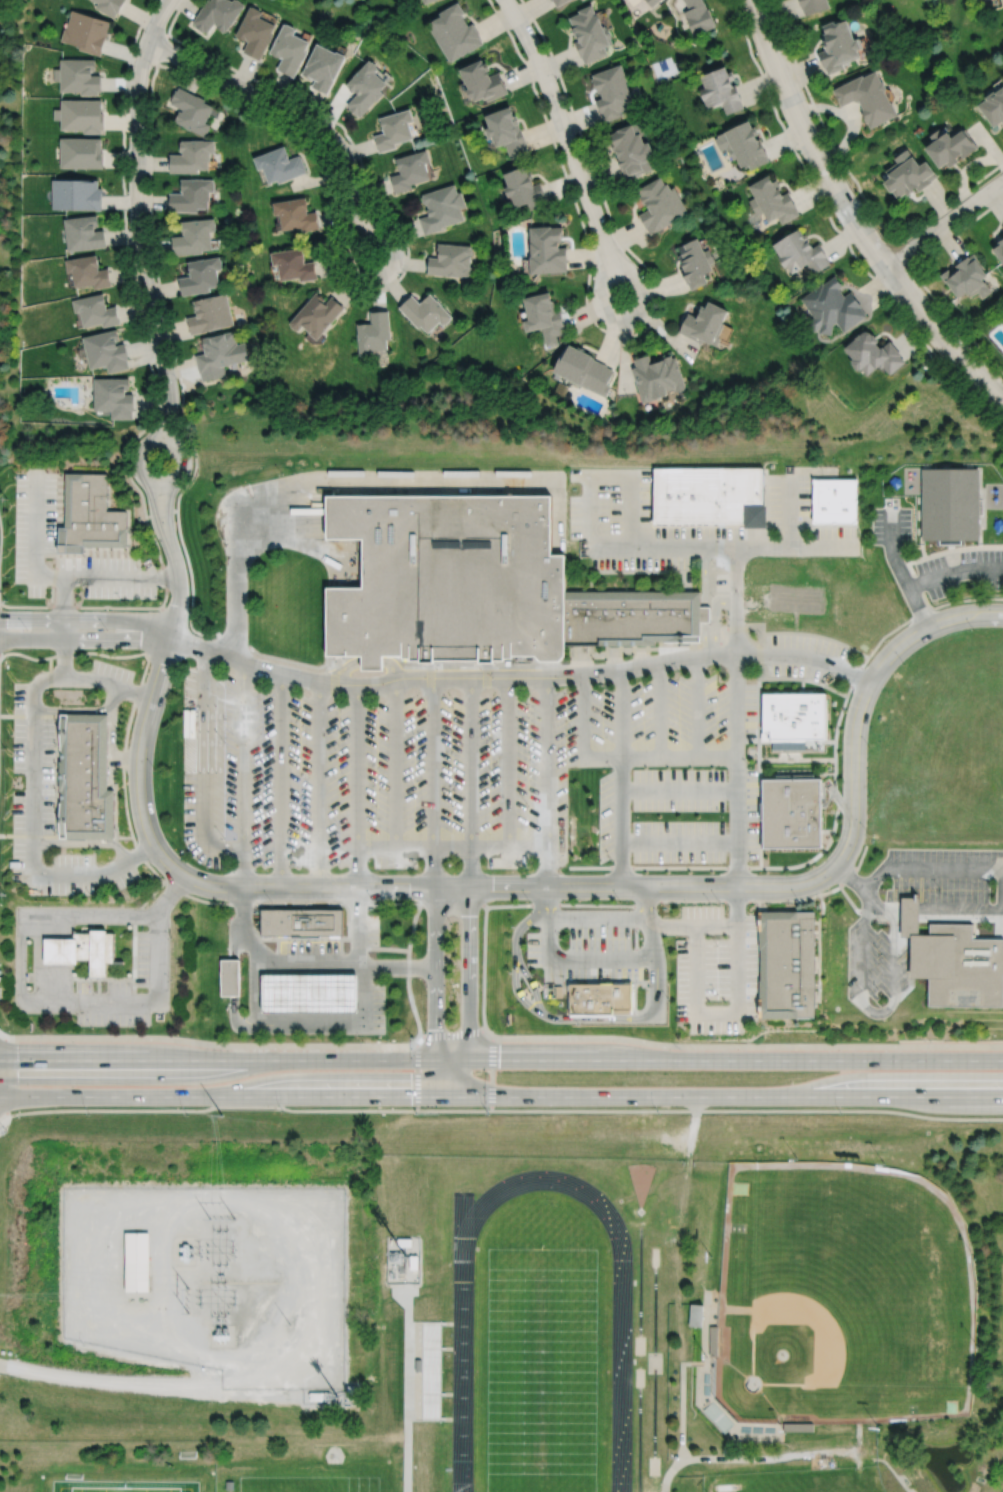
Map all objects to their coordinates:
building: (429, 1)
building: (560, 1)
building: (652, 2)
building: (813, 5)
building: (109, 6)
building: (218, 14)
building: (698, 16)
building: (86, 31)
building: (457, 31)
building: (256, 32)
building: (590, 33)
street lamp: (782, 35)
building: (840, 44)
road: (162, 47)
building: (290, 49)
building: (324, 66)
street lamp: (153, 67)
park: (663, 68)
road: (179, 71)
building: (78, 75)
street lamp: (558, 80)
building: (486, 81)
building: (366, 87)
building: (721, 89)
building: (612, 91)
building: (869, 97)
building: (993, 105)
street lamp: (255, 106)
building: (192, 111)
building: (82, 114)
road: (562, 126)
building: (395, 129)
building: (509, 131)
street lamp: (344, 136)
building: (744, 144)
building: (951, 146)
building: (632, 150)
building: (81, 151)
street lamp: (799, 153)
building: (192, 156)
road: (345, 156)
building: (280, 165)
building: (412, 170)
street lamp: (126, 173)
building: (911, 176)
road: (856, 183)
building: (525, 189)
building: (76, 193)
road: (137, 194)
building: (192, 195)
street lamp: (577, 200)
building: (772, 200)
building: (660, 205)
building: (443, 208)
building: (297, 214)
road: (852, 215)
road: (944, 222)
road: (836, 230)
building: (83, 232)
street lamp: (883, 235)
building: (194, 237)
street lamp: (404, 245)
building: (999, 249)
building: (546, 250)
building: (801, 253)
road: (901, 254)
building: (452, 261)
building: (695, 263)
building: (295, 265)
building: (88, 272)
street lamp: (646, 273)
building: (201, 276)
road: (917, 278)
building: (967, 278)
street lamp: (135, 286)
building: (833, 308)
building: (96, 311)
building: (426, 312)
building: (211, 315)
building: (317, 315)
building: (543, 317)
road: (630, 319)
building: (705, 324)
building: (375, 334)
road: (630, 335)
street lamp: (965, 338)
building: (106, 351)
building: (874, 354)
building: (218, 356)
building: (583, 370)
building: (657, 378)
street lamp: (178, 382)
road: (154, 385)
building: (113, 398)
road: (161, 416)
road: (173, 418)
road: (948, 468)
street lamp: (283, 474)
street lamp: (161, 478)
road: (179, 478)
road: (354, 482)
road: (632, 489)
parking lot: (788, 497)
building: (711, 498)
building: (836, 502)
building: (949, 505)
road: (592, 509)
parking lot: (35, 511)
road: (162, 513)
road: (788, 514)
building: (90, 515)
road: (169, 516)
road: (156, 518)
road: (602, 522)
road: (913, 523)
parking lot: (892, 525)
street lamp: (870, 526)
street lamp: (12, 530)
street lamp: (24, 539)
road: (299, 540)
parking lot: (835, 541)
road: (951, 546)
parking lot: (656, 547)
road: (728, 547)
street lamp: (927, 552)
street lamp: (163, 555)
road: (929, 555)
street lamp: (713, 562)
street lamp: (225, 567)
road: (637, 570)
road: (899, 570)
parking lot: (962, 571)
road: (954, 572)
road: (43, 574)
road: (704, 575)
road: (166, 577)
building: (446, 579)
parking lot: (722, 581)
street lamp: (988, 592)
street lamp: (712, 595)
road: (178, 596)
street lamp: (946, 597)
street lamp: (120, 598)
road: (736, 601)
road: (63, 606)
road: (174, 608)
road: (704, 612)
building: (705, 612)
building: (631, 615)
road: (86, 618)
road: (714, 618)
street lamp: (26, 627)
street lamp: (106, 628)
road: (155, 630)
street lamp: (973, 630)
road: (775, 632)
street lamp: (204, 635)
road: (760, 637)
road: (84, 638)
road: (704, 638)
road: (577, 654)
road: (806, 655)
parking lot: (803, 656)
road: (64, 657)
road: (370, 660)
road: (249, 663)
street lamp: (904, 664)
road: (392, 665)
street lamp: (81, 667)
road: (342, 668)
street lamp: (679, 671)
parking lot: (110, 675)
road: (569, 675)
road: (764, 677)
street lamp: (173, 683)
road: (365, 683)
street lamp: (603, 683)
road: (802, 684)
street lamp: (300, 705)
street lamp: (376, 705)
street lamp: (451, 705)
street lamp: (527, 706)
road: (697, 707)
road: (74, 708)
road: (658, 710)
road: (621, 713)
road: (584, 715)
building: (793, 717)
street lamp: (11, 733)
road: (112, 733)
road: (753, 740)
street lamp: (223, 741)
road: (821, 741)
street lamp: (869, 747)
road: (753, 751)
road: (789, 754)
road: (123, 755)
road: (661, 757)
road: (509, 761)
road: (394, 762)
parking lot: (427, 763)
road: (204, 765)
street lamp: (749, 766)
street lamp: (154, 767)
street lamp: (611, 768)
road: (737, 770)
road: (796, 772)
road: (243, 773)
road: (55, 774)
road: (758, 774)
building: (83, 776)
road: (281, 779)
road: (433, 780)
road: (470, 781)
road: (547, 781)
road: (32, 782)
road: (318, 783)
road: (109, 784)
road: (119, 785)
road: (357, 785)
road: (679, 789)
road: (837, 802)
road: (840, 802)
road: (823, 803)
street lamp: (299, 804)
street lamp: (375, 804)
street lamp: (451, 805)
street lamp: (527, 805)
parking lot: (46, 809)
road: (760, 809)
building: (792, 810)
parking lot: (614, 814)
street lamp: (636, 814)
street lamp: (721, 815)
road: (622, 821)
road: (823, 830)
road: (831, 830)
street lamp: (868, 834)
street lamp: (223, 835)
street lamp: (9, 841)
road: (84, 841)
road: (679, 842)
road: (452, 846)
street lamp: (180, 850)
street lamp: (611, 858)
street lamp: (754, 860)
road: (991, 868)
road: (182, 873)
parking lot: (951, 879)
road: (811, 880)
street lamp: (882, 888)
street lamp: (940, 889)
street lamp: (991, 889)
street lamp: (90, 895)
street lamp: (153, 895)
road: (357, 898)
street lamp: (271, 900)
street lamp: (529, 900)
road: (547, 900)
street lamp: (620, 900)
road: (646, 900)
street lamp: (374, 901)
street lamp: (709, 901)
street lamp: (719, 902)
street lamp: (799, 902)
street lamp: (39, 903)
street lamp: (79, 903)
street lamp: (120, 903)
road: (493, 905)
road: (243, 907)
road: (891, 908)
road: (909, 908)
road: (20, 914)
street lamp: (659, 914)
road: (875, 919)
street lamp: (881, 921)
building: (302, 922)
street lamp: (451, 923)
road: (673, 924)
road: (48, 925)
road: (57, 925)
road: (66, 925)
street lamp: (513, 926)
parking lot: (371, 928)
street lamp: (169, 936)
road: (308, 936)
road: (333, 937)
road: (357, 938)
street lamp: (560, 938)
road: (234, 941)
road: (277, 944)
street lamp: (716, 944)
parking lot: (308, 945)
road: (340, 945)
parking lot: (584, 945)
road: (818, 946)
road: (48, 949)
road: (57, 949)
road: (66, 949)
building: (81, 949)
road: (38, 958)
road: (647, 958)
building: (953, 961)
building: (787, 963)
road: (299, 966)
road: (406, 966)
road: (408, 968)
road: (483, 968)
parking lot: (875, 968)
road: (264, 969)
road: (281, 969)
road: (300, 969)
road: (319, 969)
road: (338, 969)
parking lot: (716, 969)
street lamp: (510, 971)
road: (157, 976)
building: (229, 976)
road: (232, 976)
road: (102, 977)
street lamp: (170, 978)
road: (555, 980)
road: (583, 980)
road: (642, 981)
road: (661, 981)
road: (49, 982)
road: (57, 982)
road: (66, 982)
road: (98, 982)
parking lot: (130, 986)
building: (558, 991)
road: (264, 992)
road: (281, 992)
road: (300, 992)
building: (309, 992)
gas station: (309, 992)
road: (319, 992)
road: (338, 992)
road: (435, 992)
road: (517, 992)
street lamp: (717, 992)
street lamp: (880, 993)
road: (469, 994)
street lamp: (451, 996)
street lamp: (667, 998)
building: (599, 999)
road: (863, 1003)
parking lot: (377, 1006)
road: (715, 1012)
street lamp: (51, 1013)
road: (234, 1017)
road: (560, 1018)
road: (264, 1019)
road: (281, 1019)
road: (300, 1019)
road: (319, 1019)
road: (339, 1019)
street lamp: (687, 1022)
street lamp: (577, 1023)
street lamp: (91, 1025)
street lamp: (133, 1026)
road: (340, 1027)
street lamp: (135, 1031)
street lamp: (44, 1032)
road: (452, 1032)
street lamp: (570, 1033)
street lamp: (412, 1035)
street lamp: (226, 1040)
street lamp: (363, 1040)
street lamp: (748, 1041)
street lamp: (930, 1042)
road: (210, 1044)
road: (742, 1046)
road: (501, 1060)
traffic signals: (434, 1061)
traffic signals: (465, 1061)
road: (492, 1073)
road: (0, 1076)
traffic signals: (446, 1098)
road: (501, 1098)
road: (245, 1107)
road: (747, 1110)
street lamp: (841, 1113)
road: (693, 1128)
road: (686, 1177)
road: (543, 1179)
park: (641, 1179)
road: (464, 1229)
building: (136, 1261)
road: (641, 1286)
park: (843, 1295)
road: (408, 1304)
road: (656, 1306)
building: (695, 1315)
building: (416, 1366)
park: (542, 1370)
road: (249, 1375)
road: (80, 1378)
road: (192, 1384)
road: (231, 1396)
road: (683, 1396)
road: (408, 1408)
building: (718, 1415)
road: (655, 1418)
road: (641, 1434)
road: (822, 1451)
road: (721, 1458)
road: (670, 1473)
park: (335, 1479)
park: (797, 1479)
building: (228, 1484)
road: (463, 1488)
park: (145, 1491)

